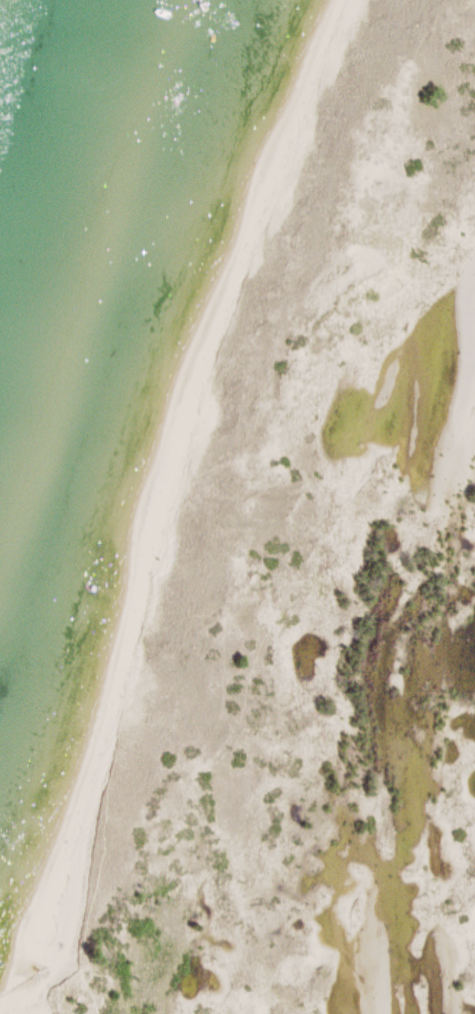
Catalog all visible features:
park: (259, 550)

